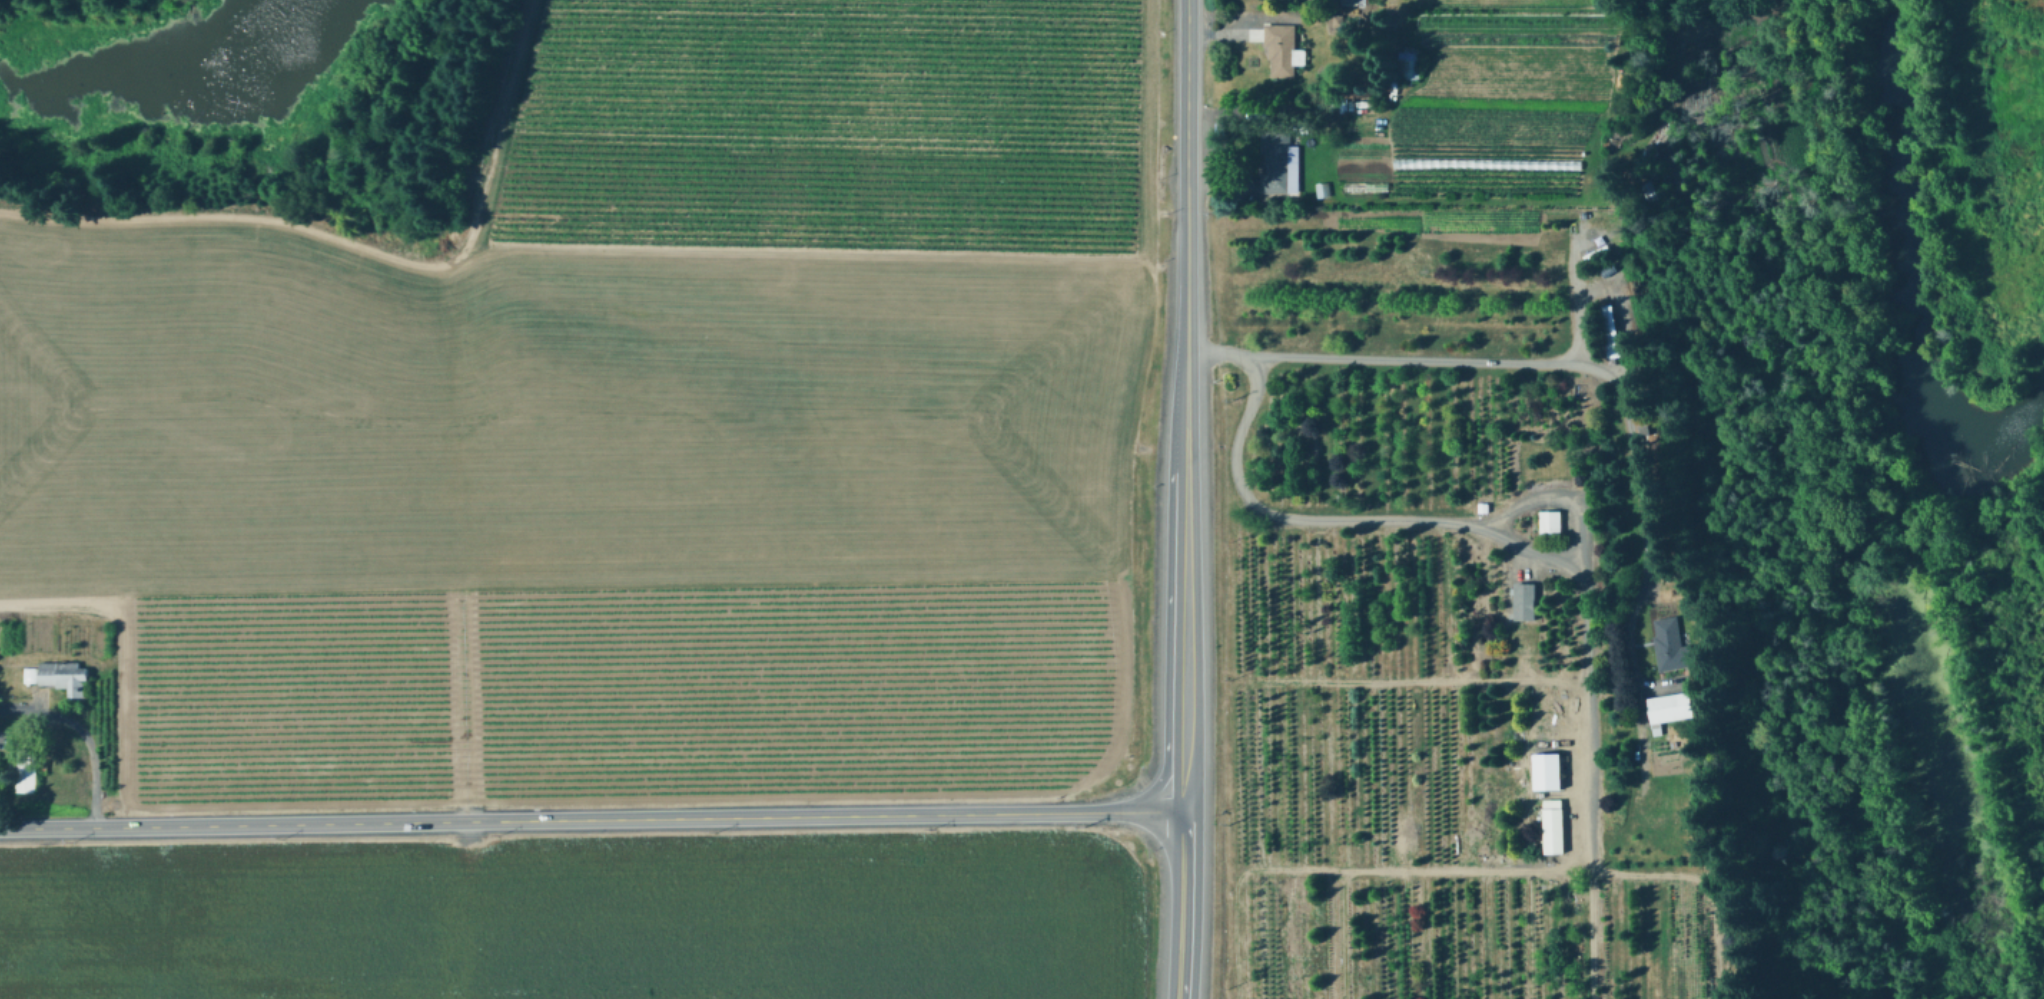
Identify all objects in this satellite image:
building: (1351, 1)
building: (1333, 19)
building: (1284, 49)
building: (1409, 67)
building: (1277, 162)
building: (1355, 185)
building: (1322, 189)
river: (1895, 263)
building: (1611, 331)
road: (1564, 364)
crop: (621, 430)
road: (1187, 499)
building: (1483, 508)
road: (1430, 521)
building: (1551, 524)
building: (1526, 600)
building: (1673, 645)
building: (62, 675)
road: (1425, 678)
building: (1671, 707)
road: (1587, 711)
road: (81, 733)
building: (21, 766)
building: (1545, 769)
road: (1161, 778)
road: (593, 818)
building: (1554, 826)
road: (1538, 870)
crop: (586, 918)

